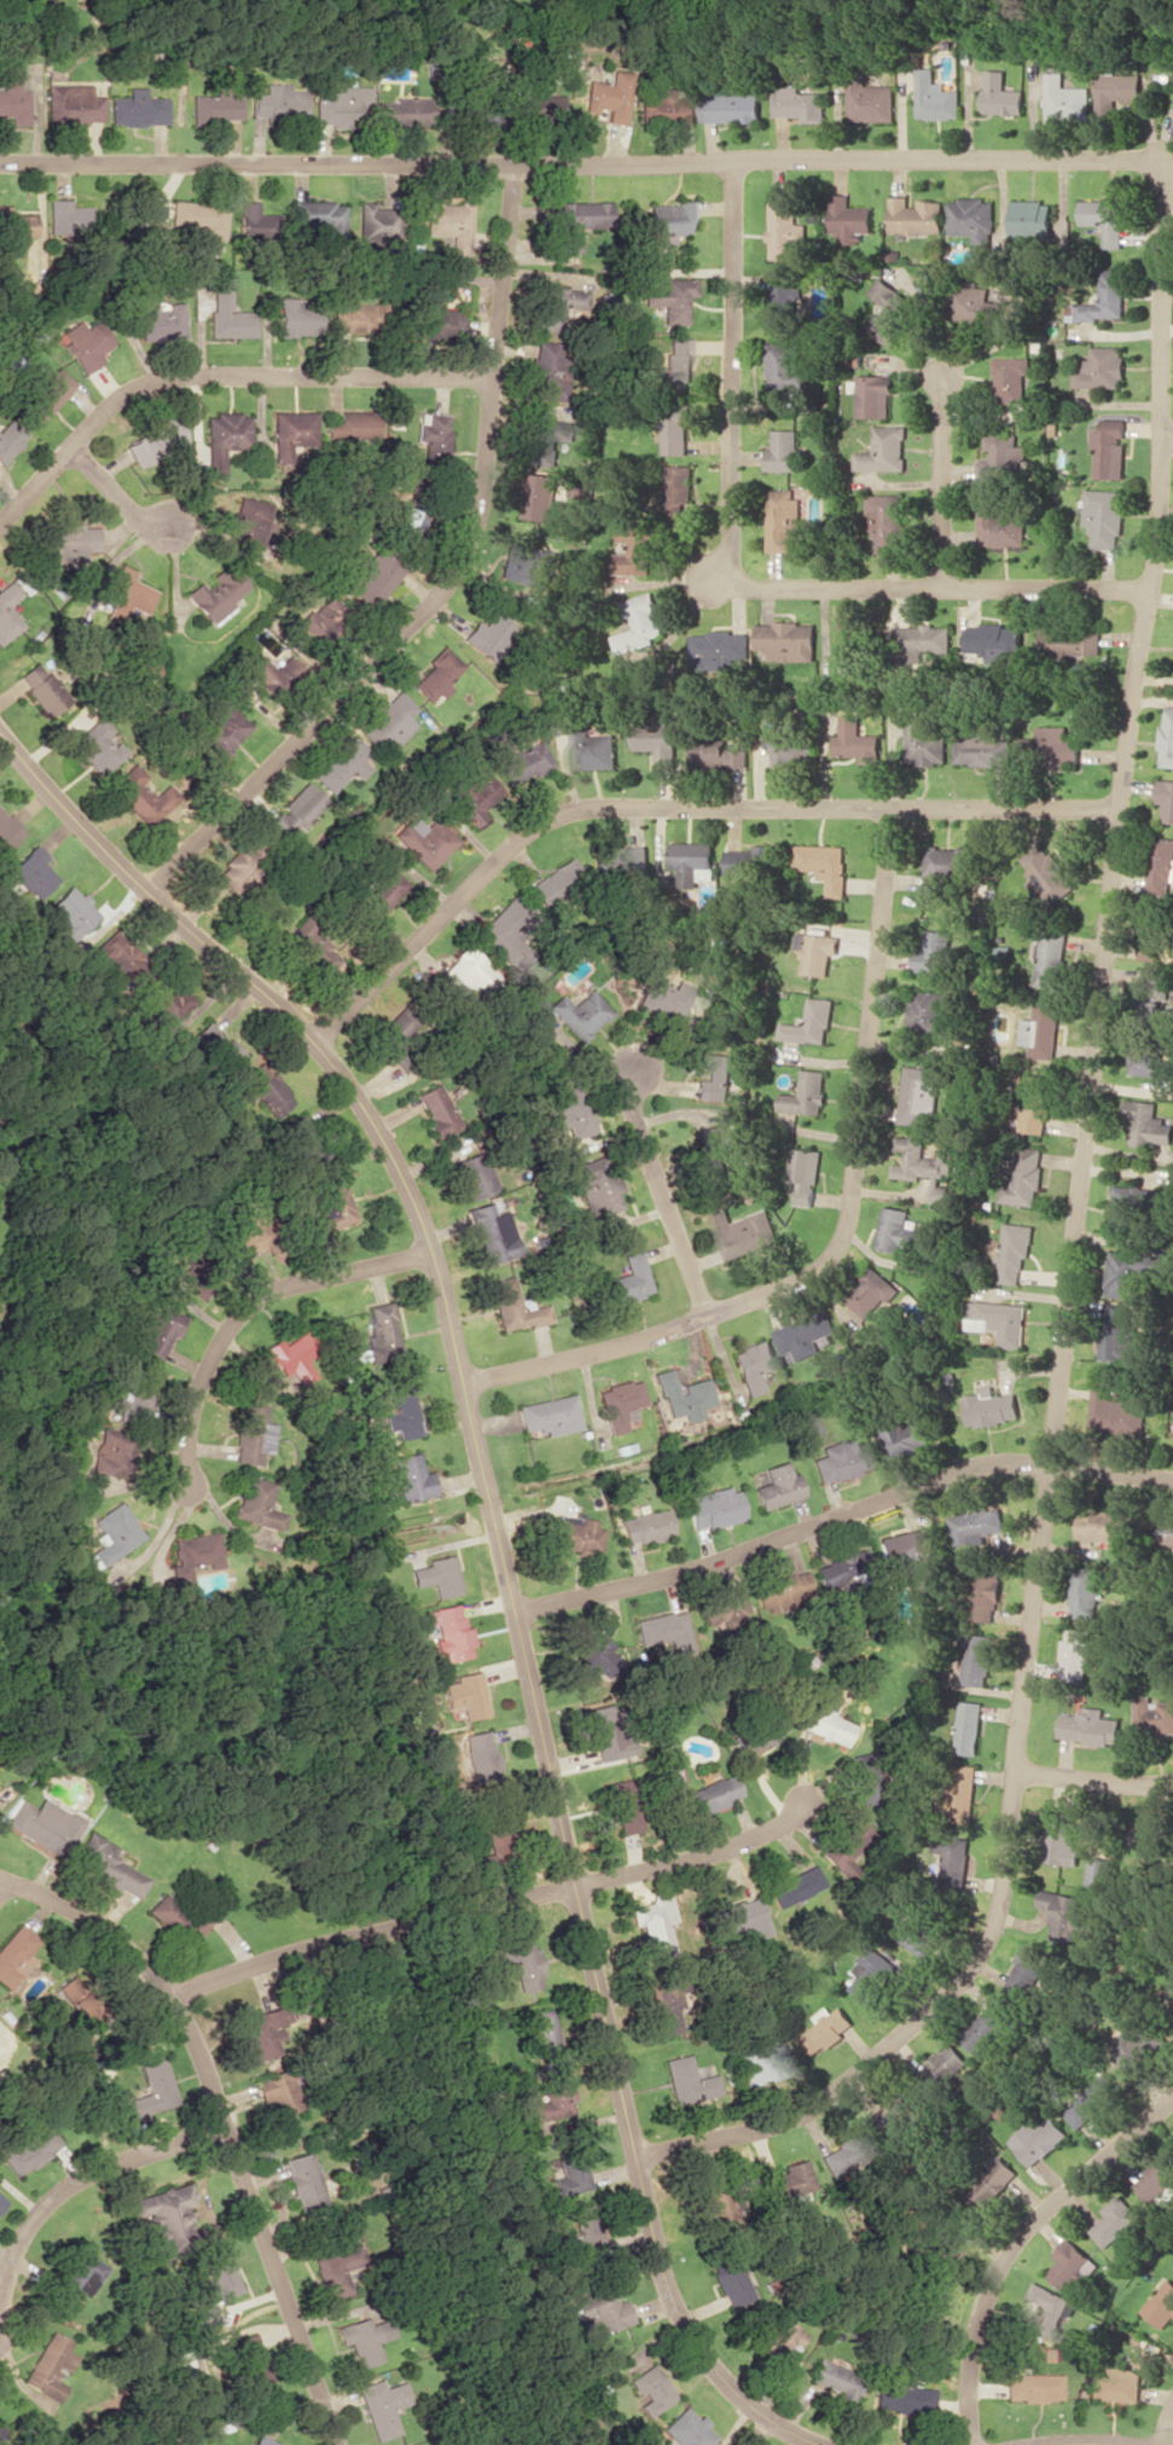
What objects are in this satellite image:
building: (1115, 92)
building: (1001, 94)
building: (608, 95)
building: (935, 97)
building: (12, 98)
building: (1065, 99)
building: (278, 101)
building: (871, 101)
building: (79, 104)
building: (799, 104)
building: (216, 105)
building: (539, 105)
building: (342, 106)
building: (667, 106)
building: (732, 106)
building: (138, 109)
building: (402, 111)
building: (480, 114)
road: (576, 162)
building: (65, 215)
building: (850, 215)
building: (914, 215)
building: (201, 216)
building: (320, 216)
building: (972, 219)
building: (1032, 219)
building: (1105, 219)
building: (378, 221)
building: (579, 221)
building: (668, 221)
building: (257, 222)
building: (451, 222)
building: (14, 230)
building: (784, 230)
building: (1105, 297)
building: (670, 298)
building: (783, 301)
building: (972, 302)
building: (559, 306)
building: (890, 310)
building: (227, 312)
building: (359, 316)
building: (296, 318)
building: (161, 319)
building: (442, 323)
building: (86, 343)
building: (678, 360)
building: (786, 364)
building: (1102, 367)
building: (547, 370)
road: (217, 376)
building: (1011, 377)
building: (45, 394)
building: (875, 395)
building: (353, 426)
building: (676, 428)
building: (292, 430)
building: (223, 436)
road: (1167, 436)
building: (10, 439)
building: (550, 439)
building: (152, 443)
building: (884, 449)
building: (784, 451)
building: (1109, 452)
building: (1003, 457)
road: (941, 478)
building: (679, 488)
building: (542, 495)
road: (112, 496)
building: (1104, 516)
building: (783, 518)
building: (412, 522)
building: (887, 522)
building: (245, 524)
building: (1000, 528)
building: (68, 542)
building: (635, 551)
building: (528, 562)
road: (736, 574)
building: (376, 577)
road: (445, 583)
building: (217, 592)
building: (128, 596)
building: (8, 610)
building: (318, 618)
building: (639, 623)
building: (484, 635)
building: (789, 639)
building: (995, 641)
building: (918, 643)
building: (1072, 645)
building: (853, 646)
building: (719, 647)
building: (274, 674)
building: (437, 674)
building: (42, 689)
building: (389, 722)
building: (221, 730)
building: (1167, 738)
building: (658, 741)
building: (856, 741)
building: (924, 742)
building: (95, 745)
building: (981, 747)
building: (1058, 747)
building: (593, 748)
building: (792, 749)
building: (719, 754)
building: (518, 760)
building: (341, 765)
building: (139, 795)
building: (474, 797)
building: (1166, 797)
road: (669, 806)
building: (292, 811)
building: (6, 831)
building: (424, 842)
building: (695, 860)
building: (741, 861)
building: (946, 864)
building: (238, 865)
building: (825, 865)
building: (30, 871)
building: (1049, 872)
building: (556, 882)
building: (382, 892)
building: (68, 914)
building: (505, 930)
building: (1154, 941)
building: (309, 947)
building: (818, 951)
building: (936, 953)
building: (116, 956)
building: (1051, 958)
building: (464, 976)
building: (1150, 997)
building: (669, 998)
building: (573, 1012)
building: (929, 1014)
building: (812, 1022)
building: (1041, 1030)
building: (394, 1039)
building: (215, 1047)
building: (1149, 1059)
building: (714, 1079)
building: (266, 1088)
building: (806, 1093)
building: (919, 1093)
building: (1033, 1103)
building: (570, 1107)
building: (437, 1109)
building: (1146, 1123)
building: (709, 1151)
building: (922, 1163)
building: (805, 1173)
building: (474, 1175)
building: (1024, 1177)
building: (593, 1185)
road: (662, 1194)
building: (1123, 1207)
building: (327, 1208)
road: (844, 1227)
building: (252, 1230)
building: (899, 1230)
building: (744, 1232)
building: (492, 1233)
building: (1015, 1250)
road: (1072, 1267)
building: (1125, 1272)
building: (627, 1279)
building: (872, 1293)
building: (513, 1306)
road: (246, 1309)
building: (999, 1320)
building: (161, 1331)
building: (379, 1332)
building: (806, 1334)
building: (1119, 1334)
building: (294, 1354)
building: (754, 1363)
building: (134, 1393)
building: (683, 1395)
building: (620, 1404)
building: (989, 1406)
building: (401, 1409)
building: (1113, 1411)
building: (548, 1415)
building: (807, 1423)
building: (251, 1434)
building: (901, 1435)
building: (114, 1451)
building: (840, 1459)
building: (411, 1477)
building: (777, 1485)
building: (256, 1503)
building: (714, 1508)
road: (840, 1515)
building: (976, 1525)
building: (1107, 1526)
building: (116, 1527)
building: (645, 1527)
building: (1166, 1533)
building: (575, 1534)
building: (902, 1549)
road: (498, 1550)
building: (842, 1567)
building: (436, 1575)
building: (786, 1587)
building: (1087, 1592)
building: (985, 1595)
building: (724, 1613)
building: (447, 1631)
building: (663, 1631)
building: (1079, 1654)
building: (590, 1656)
building: (979, 1659)
building: (465, 1695)
building: (1155, 1714)
building: (824, 1725)
building: (971, 1726)
building: (1092, 1726)
building: (604, 1733)
building: (481, 1756)
building: (863, 1778)
road: (1094, 1778)
building: (964, 1793)
building: (713, 1794)
building: (625, 1806)
building: (42, 1824)
building: (1154, 1834)
building: (1062, 1836)
building: (492, 1841)
building: (842, 1841)
building: (957, 1859)
building: (108, 1864)
building: (794, 1883)
road: (489, 1906)
building: (1063, 1911)
building: (175, 1917)
building: (739, 1917)
building: (657, 1927)
building: (917, 1933)
building: (14, 1953)
building: (522, 1959)
building: (1027, 1970)
building: (872, 1975)
building: (666, 2002)
building: (1169, 2004)
building: (988, 2026)
building: (829, 2028)
building: (257, 2034)
building: (544, 2039)
building: (1133, 2048)
building: (946, 2062)
building: (761, 2066)
building: (687, 2080)
building: (151, 2089)
building: (278, 2092)
building: (553, 2100)
road: (220, 2119)
building: (1040, 2139)
building: (29, 2150)
building: (848, 2150)
building: (571, 2174)
building: (999, 2177)
building: (1157, 2177)
building: (303, 2180)
building: (789, 2180)
road: (70, 2185)
building: (1, 2201)
building: (713, 2207)
building: (169, 2218)
building: (1115, 2220)
building: (583, 2230)
road: (1017, 2243)
building: (1072, 2265)
building: (336, 2271)
building: (74, 2277)
building: (731, 2280)
building: (213, 2288)
building: (928, 2301)
building: (1162, 2305)
building: (600, 2310)
building: (1047, 2310)
building: (362, 2339)
building: (783, 2341)
building: (249, 2358)
building: (186, 2365)
building: (48, 2366)
building: (835, 2379)
building: (1117, 2385)
building: (1032, 2386)
building: (649, 2388)
building: (901, 2397)
building: (381, 2406)
building: (686, 2428)
road: (1167, 2431)
building: (262, 2440)
road: (1082, 2443)

